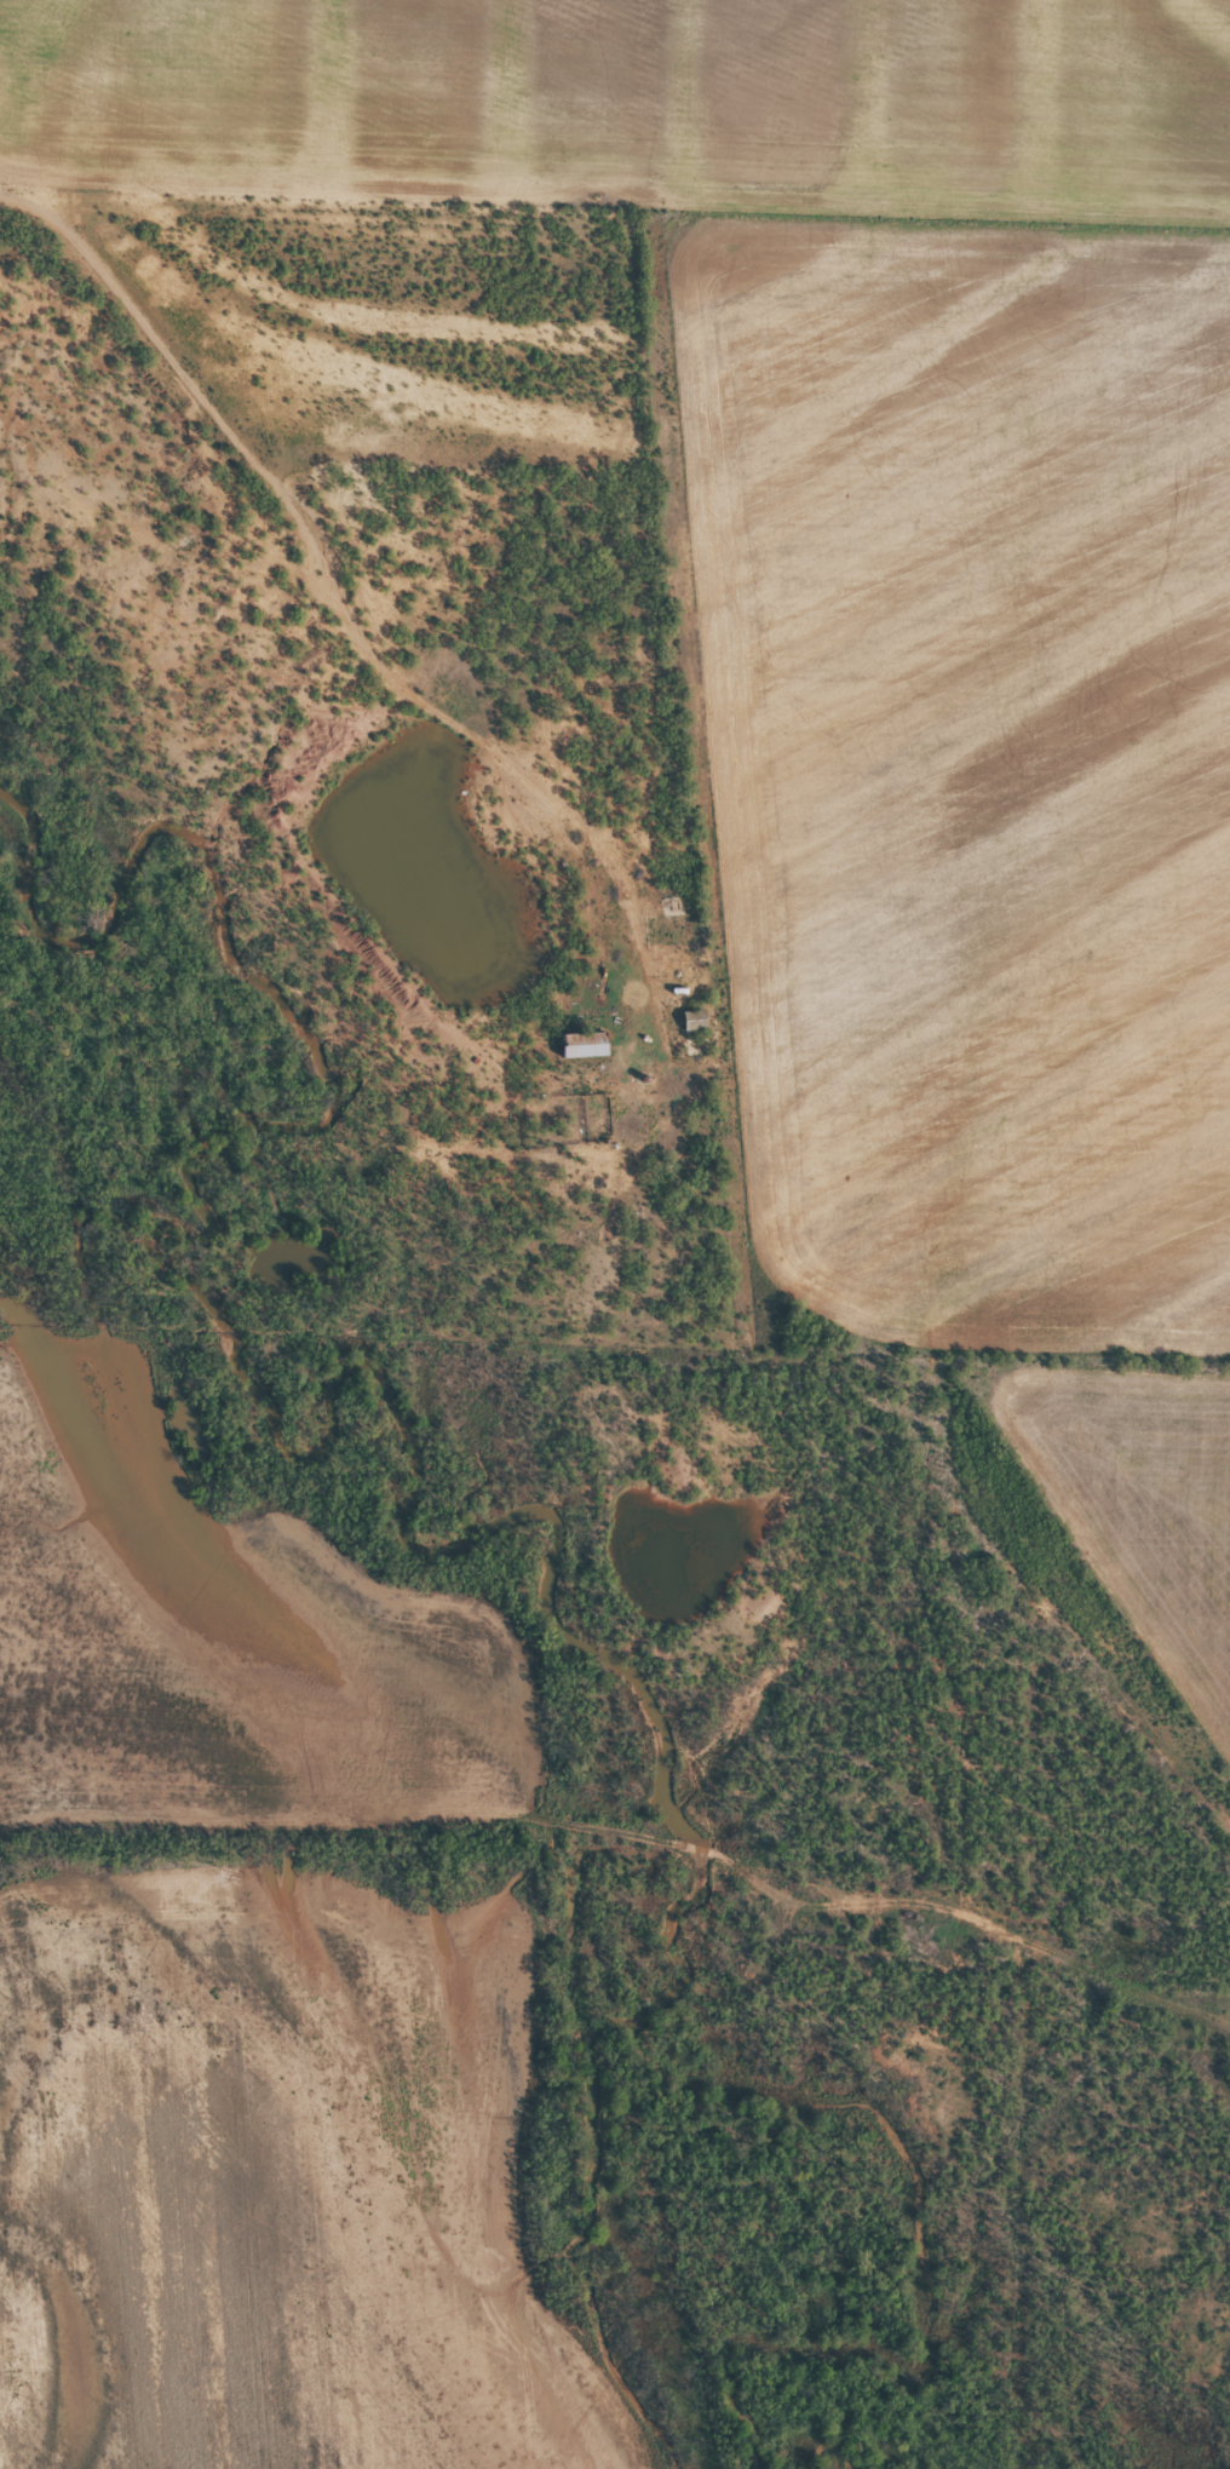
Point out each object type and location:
building: (577, 1045)

